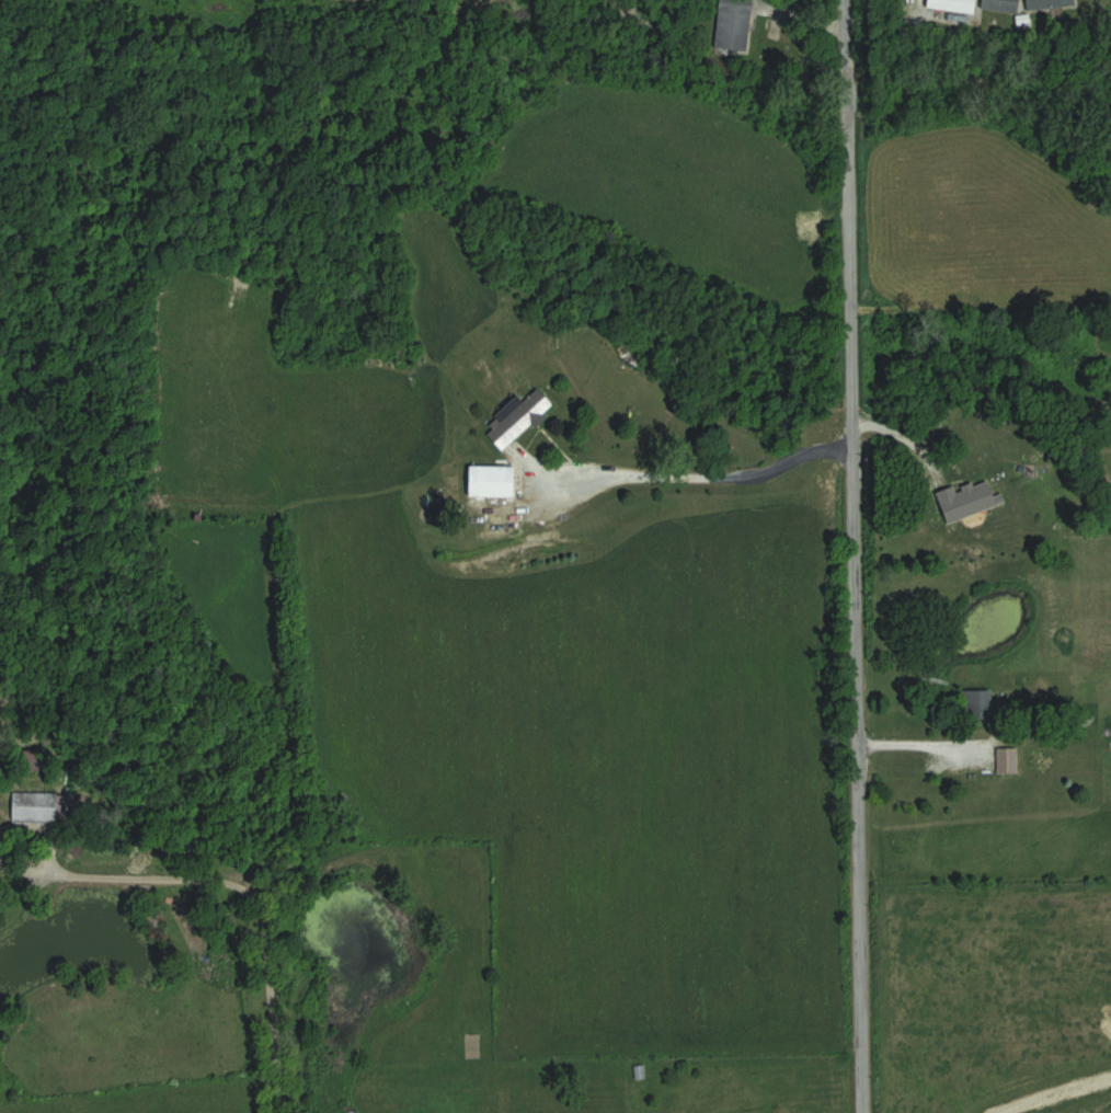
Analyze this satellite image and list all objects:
building: (1050, 3)
building: (954, 4)
building: (1003, 4)
building: (733, 24)
building: (522, 417)
road: (685, 472)
building: (493, 481)
road: (851, 555)
building: (1009, 760)
building: (34, 807)
road: (247, 880)

